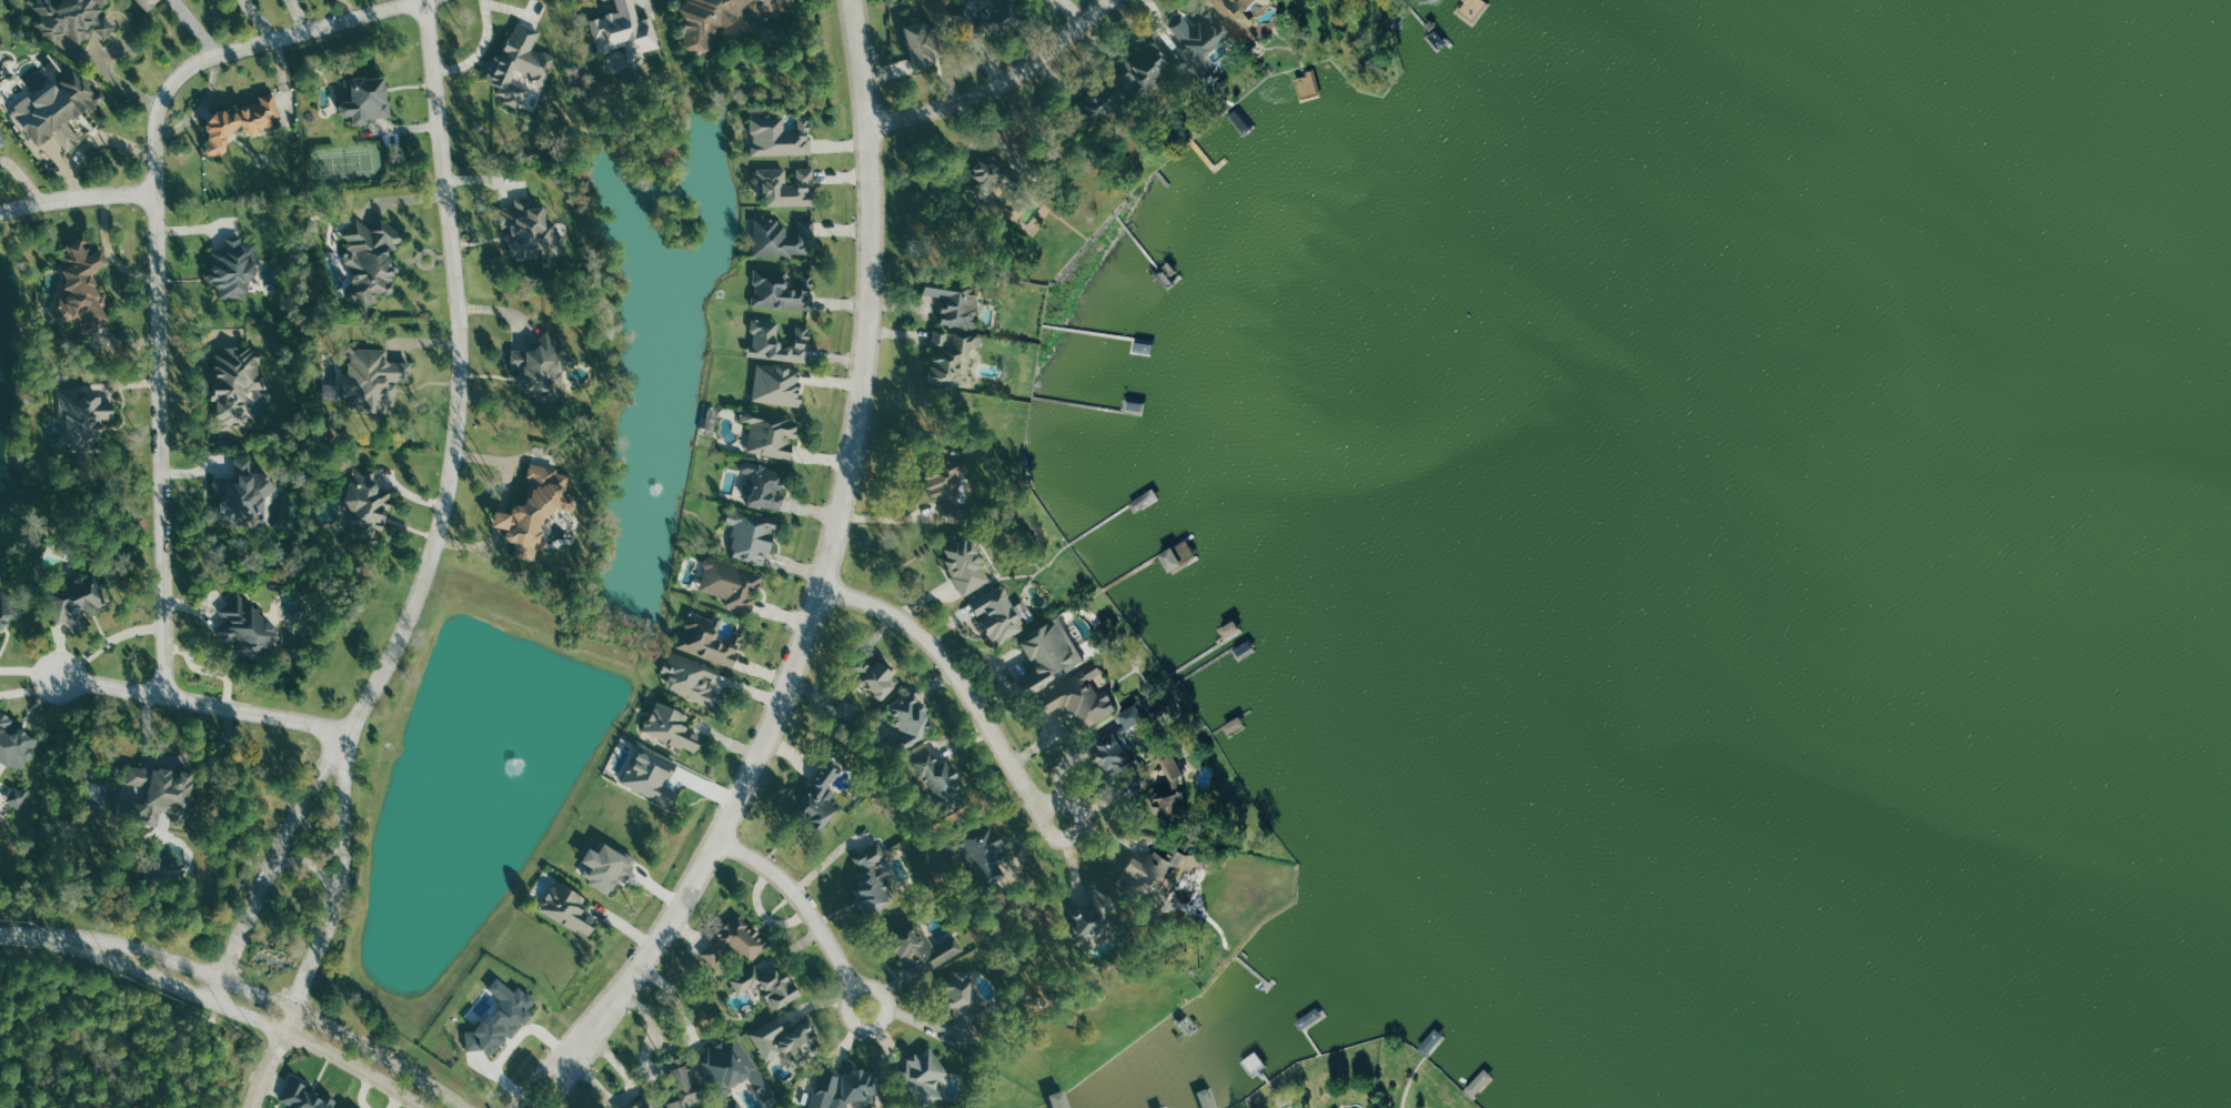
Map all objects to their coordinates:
building: (1051, 0)
building: (1214, 0)
building: (148, 3)
road: (352, 8)
building: (998, 13)
road: (298, 16)
building: (1246, 16)
building: (726, 18)
building: (70, 19)
road: (257, 20)
building: (625, 31)
building: (1200, 41)
building: (923, 44)
road: (481, 51)
building: (521, 59)
building: (1147, 66)
road: (1005, 83)
building: (515, 94)
building: (368, 99)
building: (1105, 100)
building: (58, 110)
building: (241, 122)
building: (781, 137)
building: (1, 141)
road: (96, 145)
building: (0, 168)
building: (989, 175)
building: (786, 187)
road: (77, 200)
building: (530, 230)
building: (784, 239)
road: (112, 251)
road: (157, 256)
building: (371, 259)
building: (234, 269)
building: (83, 282)
building: (782, 290)
building: (954, 331)
building: (778, 342)
building: (542, 366)
road: (460, 376)
building: (371, 379)
building: (237, 384)
building: (777, 384)
building: (80, 420)
building: (771, 434)
building: (947, 483)
building: (764, 486)
building: (243, 495)
building: (366, 505)
building: (536, 510)
road: (886, 520)
building: (752, 537)
road: (831, 547)
building: (966, 566)
building: (732, 584)
building: (78, 602)
building: (8, 610)
building: (1001, 615)
building: (247, 626)
building: (710, 639)
road: (107, 646)
building: (0, 649)
building: (1052, 655)
road: (959, 667)
building: (877, 677)
building: (690, 678)
building: (1082, 697)
road: (204, 704)
building: (1137, 716)
building: (910, 719)
building: (672, 727)
building: (14, 743)
building: (1116, 753)
building: (941, 780)
road: (313, 783)
building: (1177, 790)
building: (152, 793)
road: (344, 794)
building: (17, 795)
fountain: (490, 795)
building: (820, 796)
building: (982, 852)
road: (825, 860)
road: (311, 862)
building: (607, 867)
building: (1158, 872)
building: (873, 879)
road: (806, 900)
building: (569, 908)
building: (1098, 917)
road: (247, 920)
road: (43, 934)
road: (323, 934)
building: (736, 943)
building: (925, 947)
building: (767, 985)
road: (676, 996)
building: (963, 1000)
road: (284, 1006)
building: (502, 1018)
road: (255, 1020)
building: (785, 1039)
road: (271, 1058)
road: (545, 1068)
building: (732, 1068)
road: (569, 1074)
building: (923, 1077)
building: (683, 1085)
building: (306, 1097)
building: (1061, 1100)
building: (640, 1104)
building: (741, 1107)
building: (1166, 1107)

